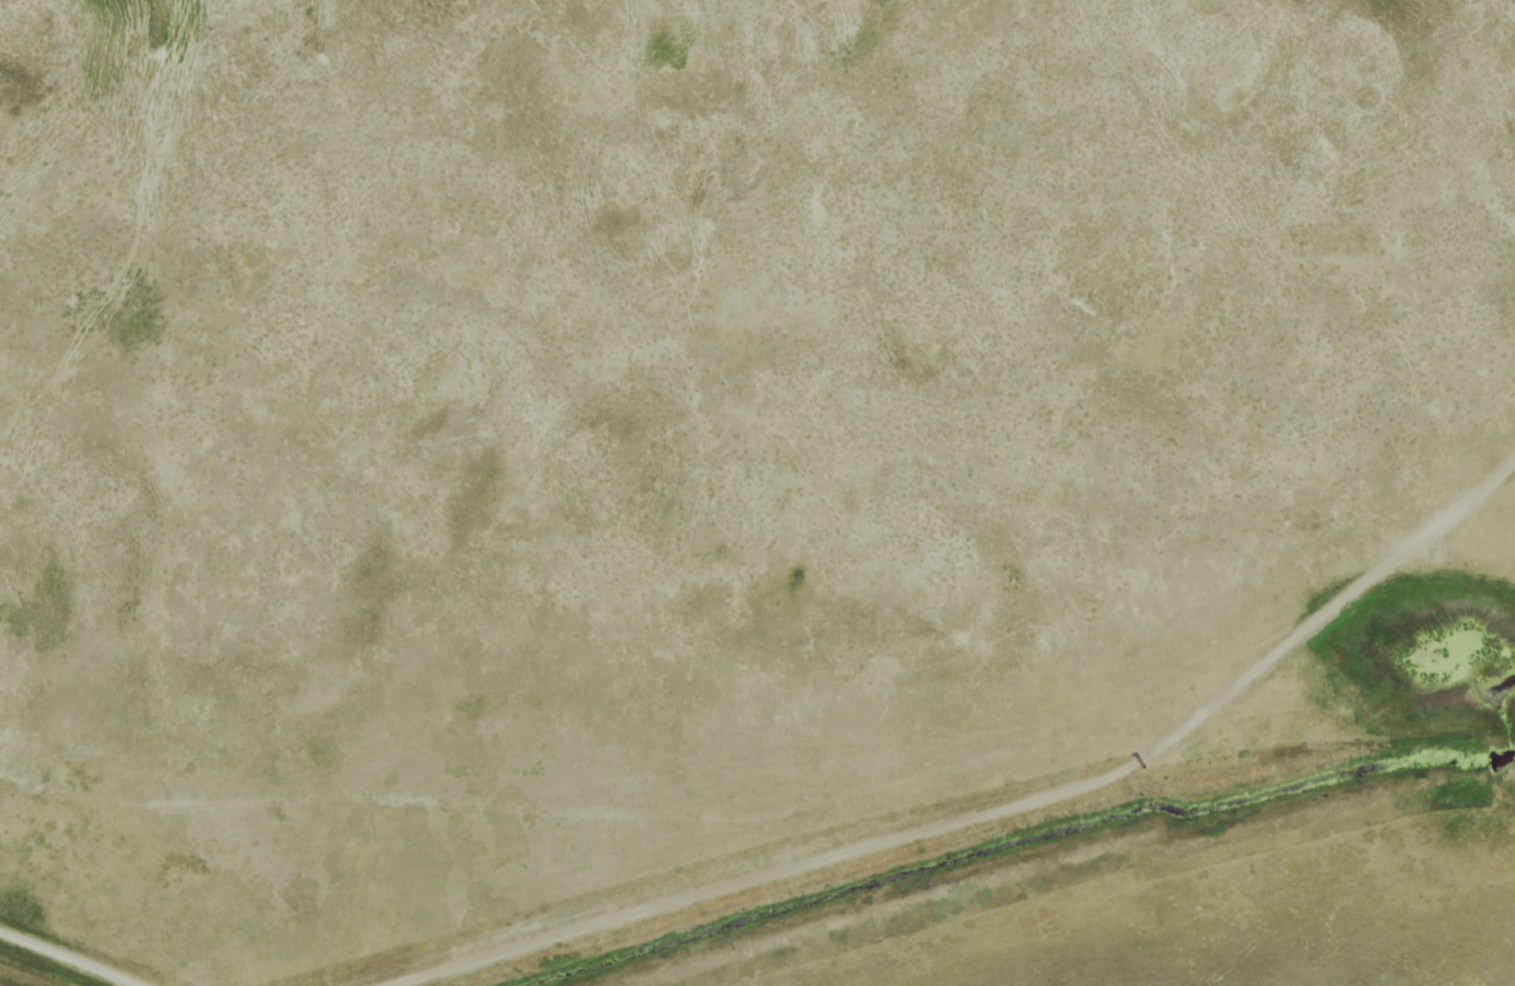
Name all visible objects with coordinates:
road: (993, 813)
road: (65, 959)

